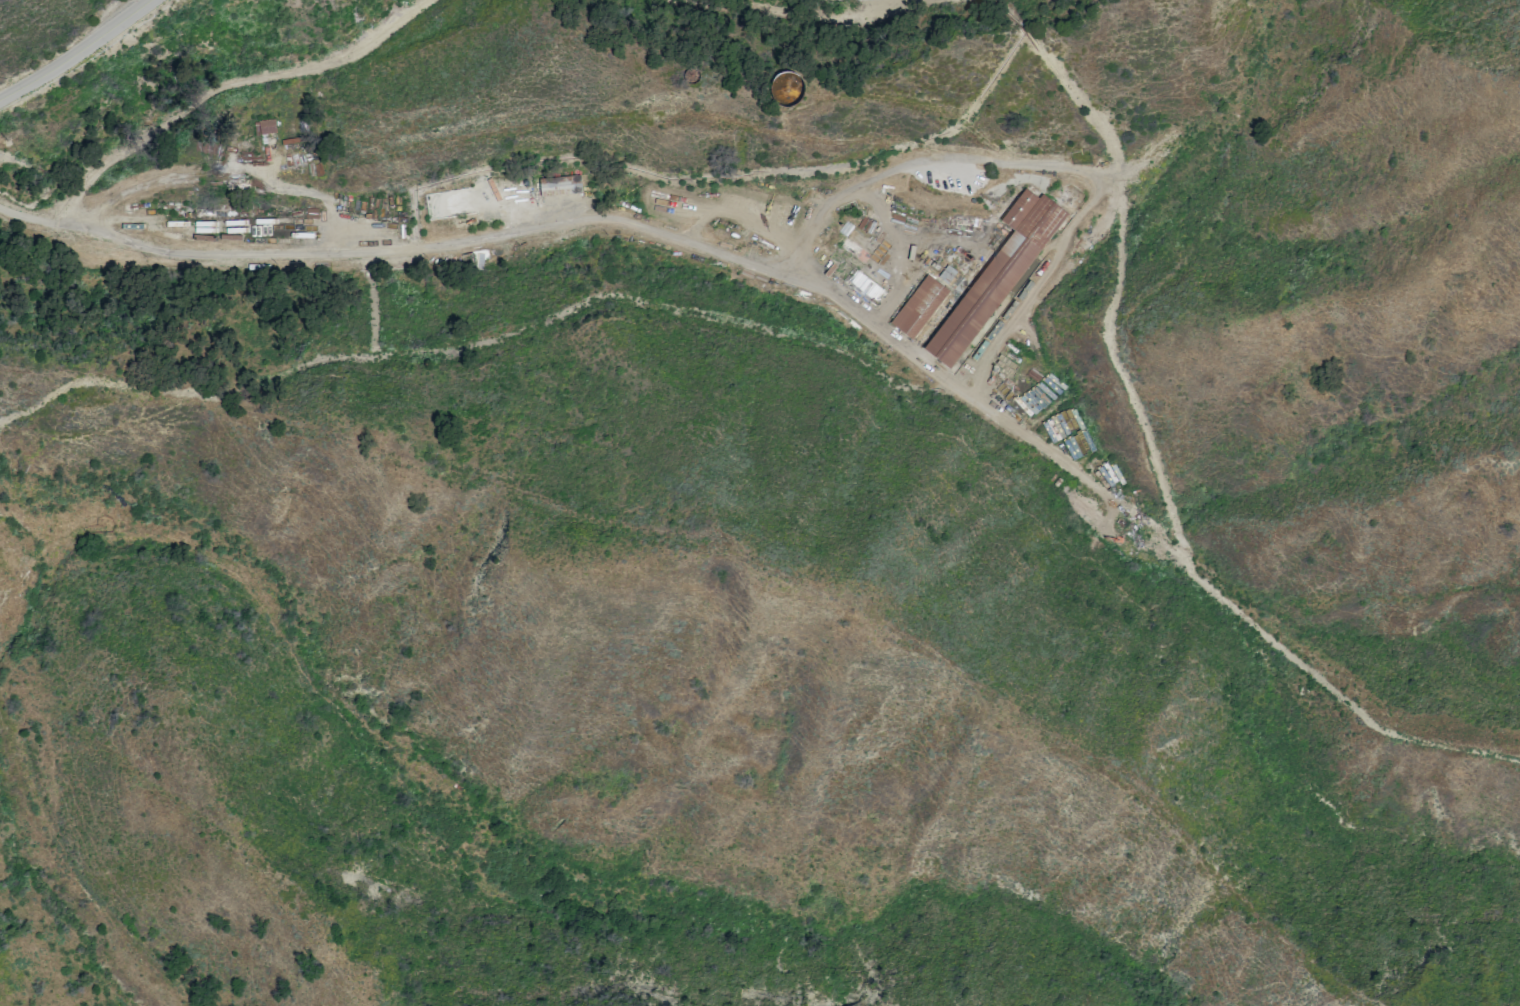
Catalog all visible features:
road: (78, 54)
building: (264, 127)
road: (1044, 164)
road: (598, 218)
building: (996, 276)
building: (919, 307)
building: (1062, 424)

